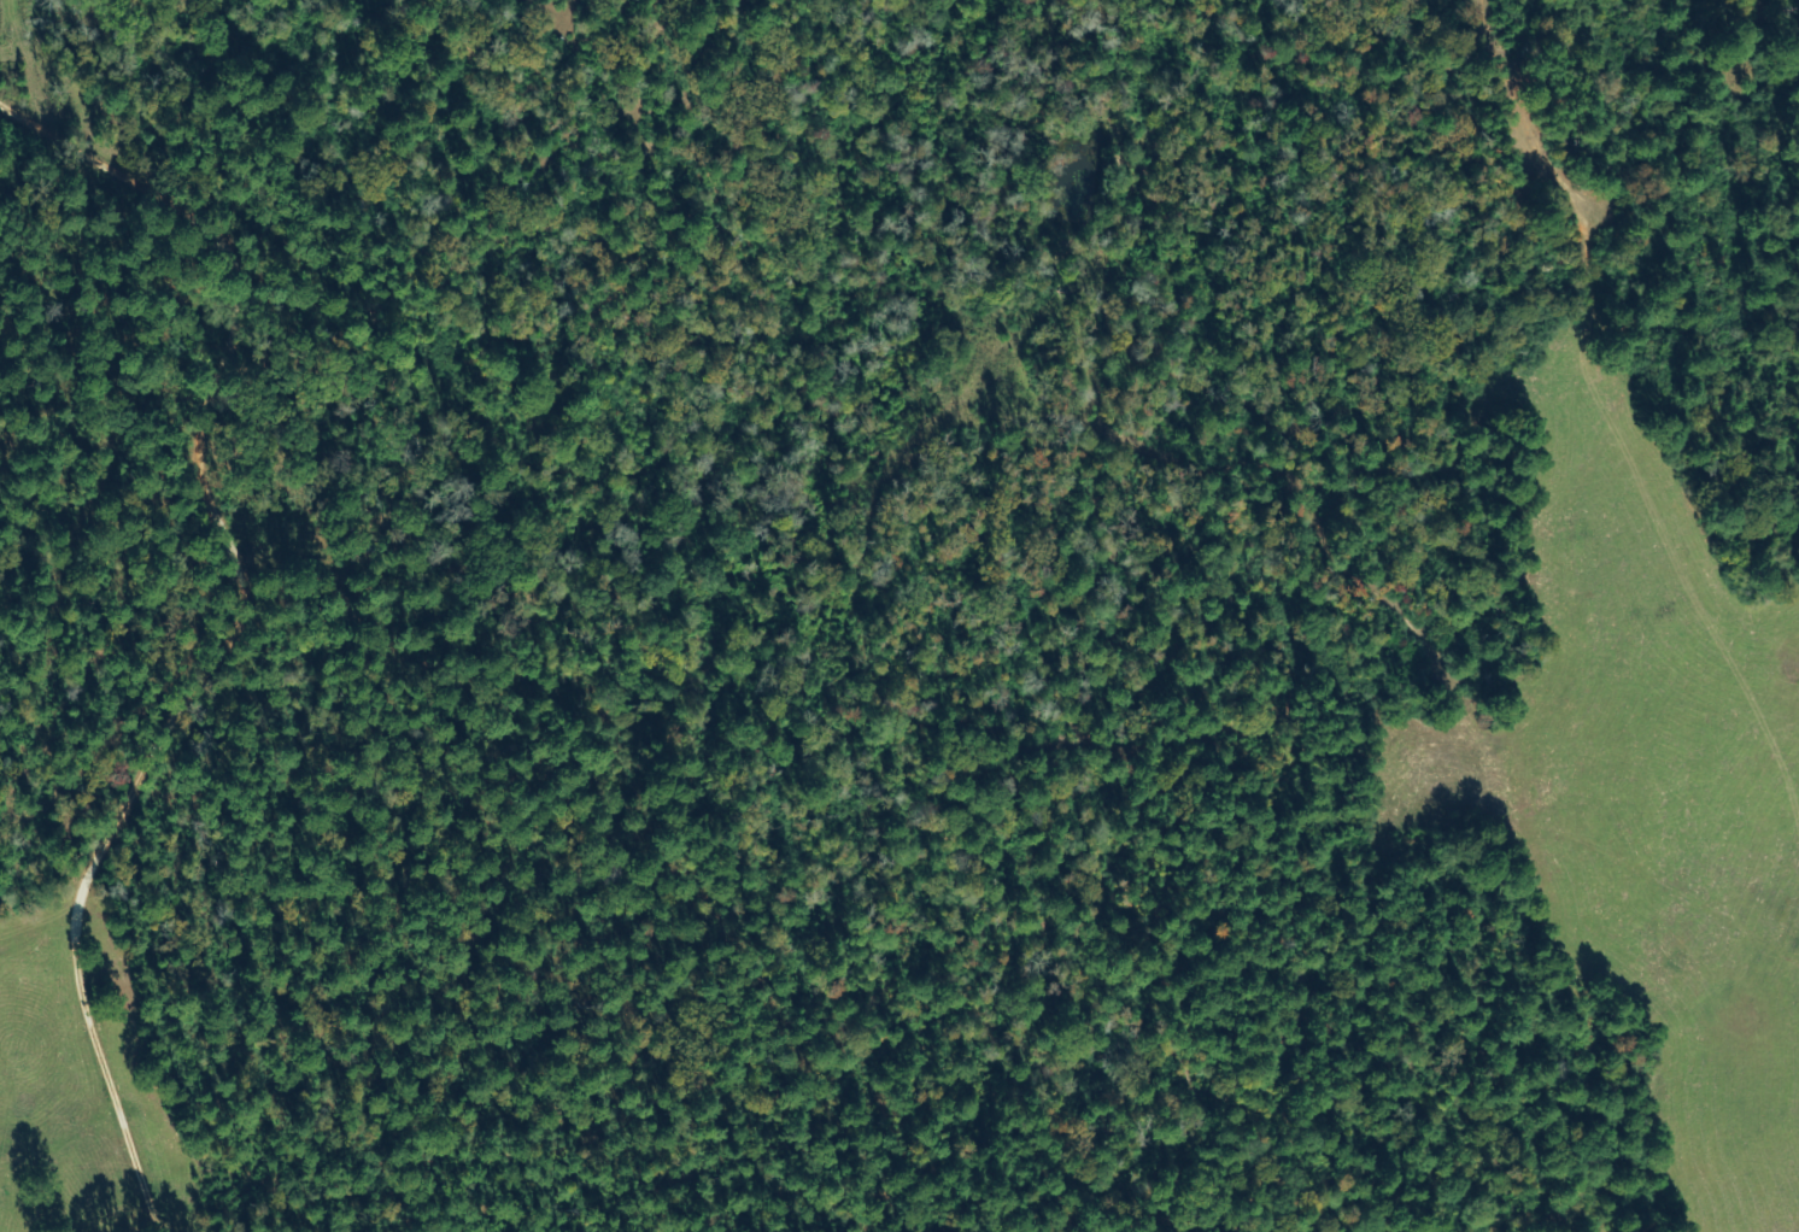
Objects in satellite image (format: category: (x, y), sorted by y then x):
road: (1623, 341)

